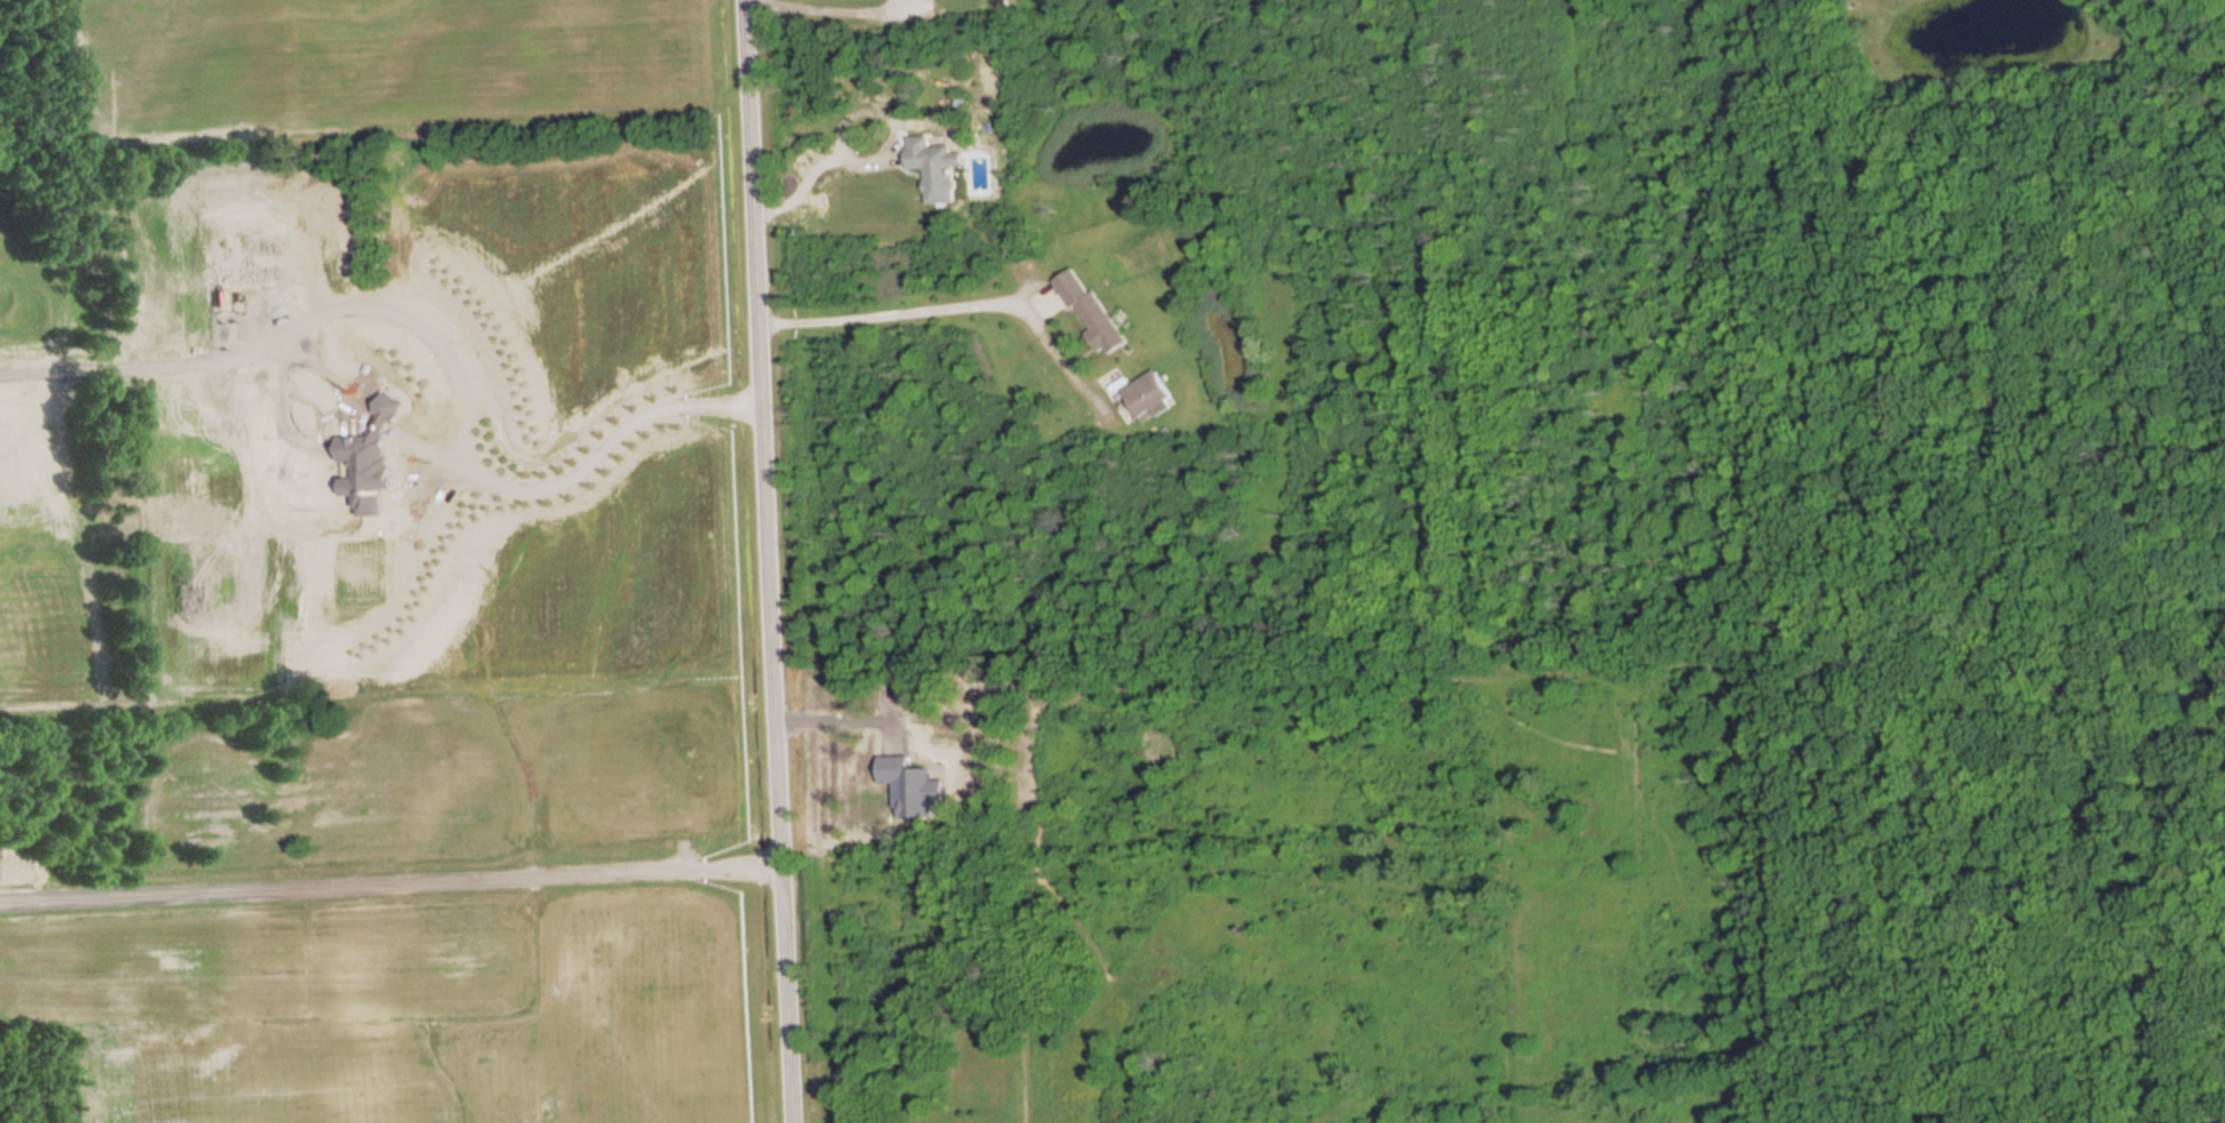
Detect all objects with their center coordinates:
road: (829, 12)
road: (807, 171)
road: (910, 311)
building: (1090, 312)
building: (1148, 396)
road: (597, 451)
road: (764, 561)
road: (829, 711)
road: (387, 876)
building: (678, 1001)

